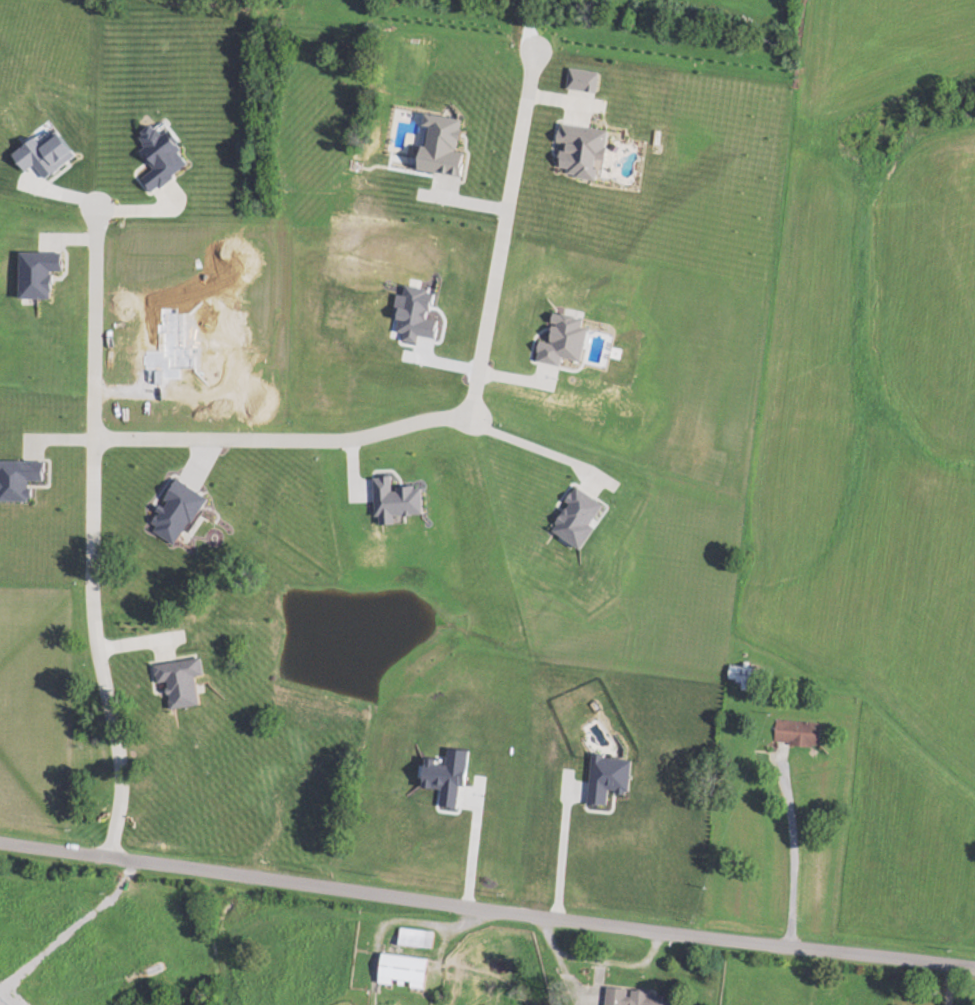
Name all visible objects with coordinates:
road: (502, 235)
road: (285, 443)
road: (525, 450)
building: (226, 493)
road: (89, 533)
building: (189, 589)
building: (124, 619)
building: (219, 624)
building: (744, 675)
building: (799, 732)
road: (791, 844)
road: (486, 909)
building: (417, 937)
building: (405, 970)
building: (640, 997)

